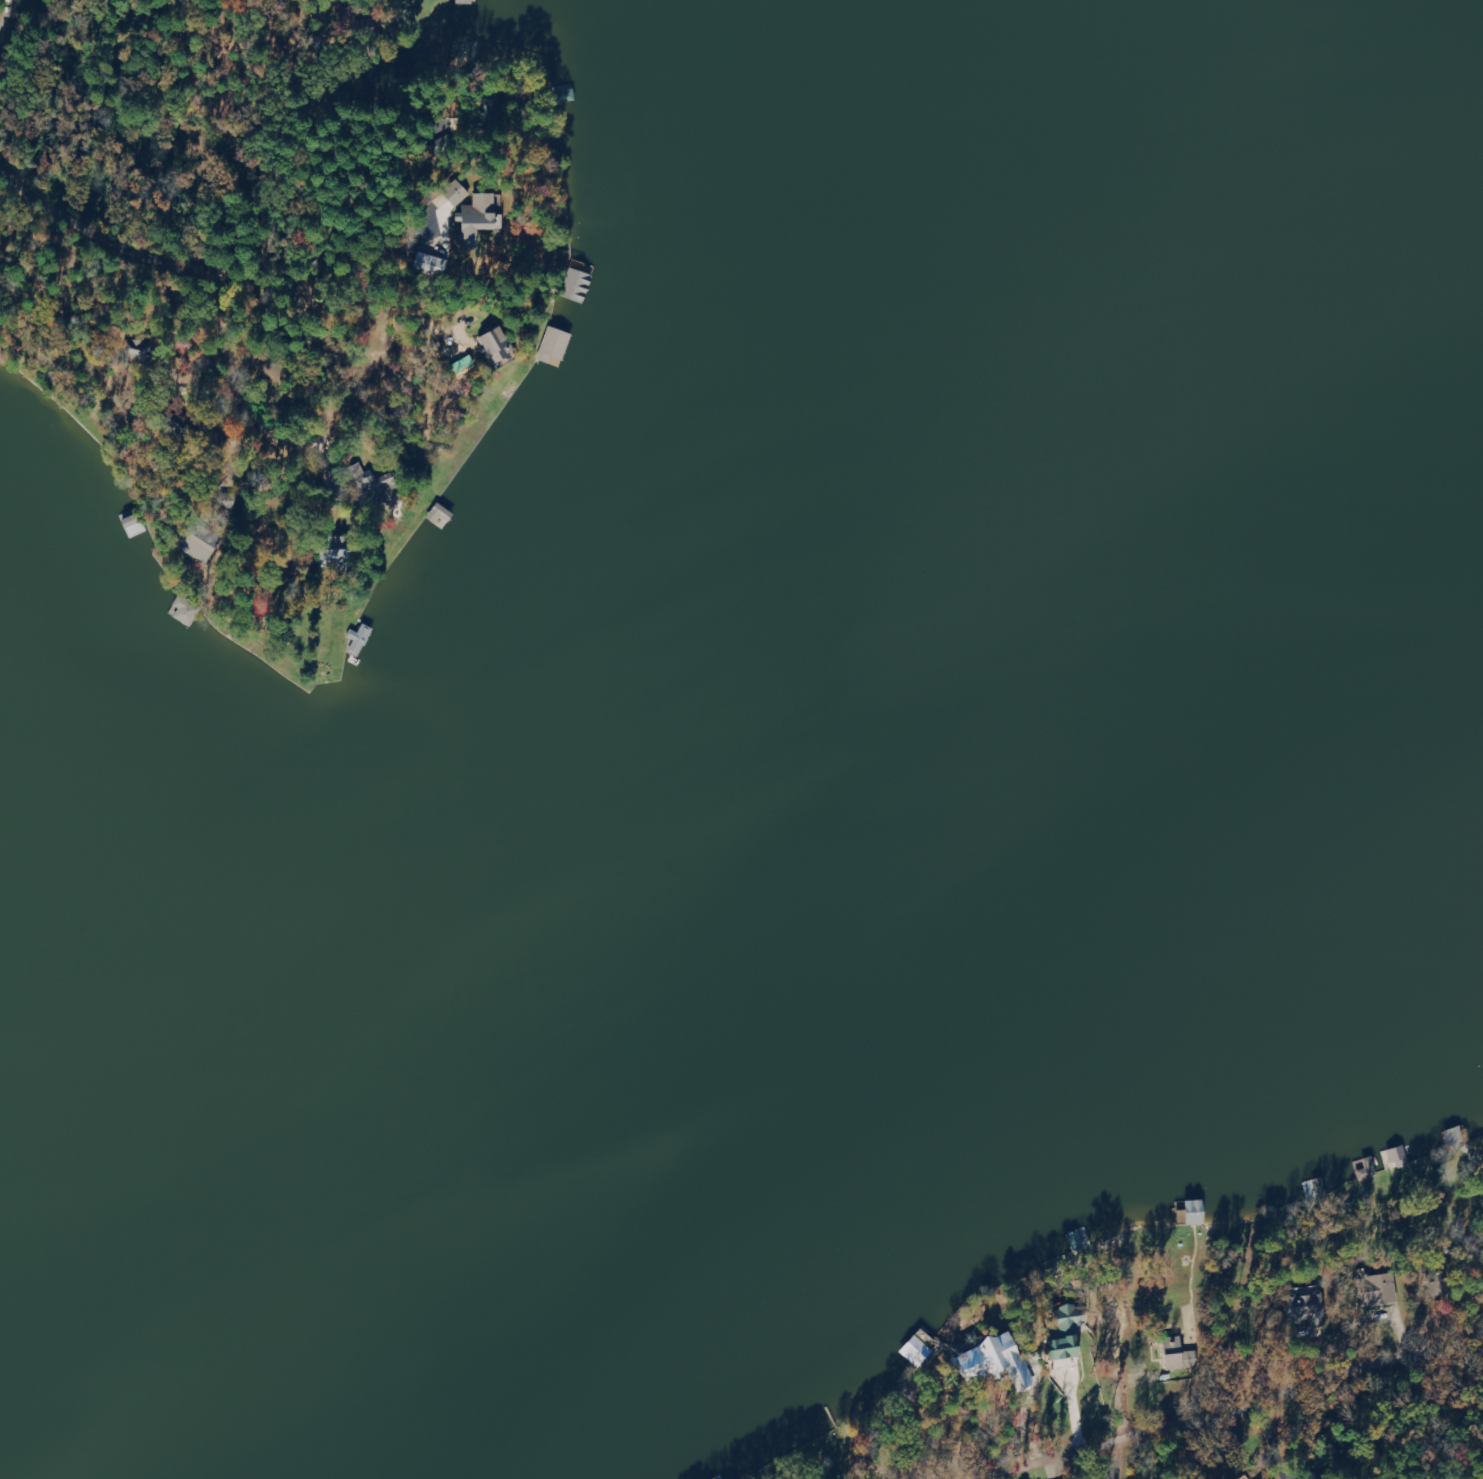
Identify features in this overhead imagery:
building: (469, 2)
road: (33, 41)
road: (380, 106)
road: (358, 134)
road: (457, 165)
road: (420, 184)
building: (459, 195)
building: (484, 217)
building: (434, 266)
building: (558, 343)
building: (501, 347)
building: (387, 484)
building: (444, 515)
building: (348, 560)
building: (189, 612)
building: (362, 640)
building: (1397, 1157)
building: (1365, 1169)
building: (1190, 1213)
building: (1382, 1290)
road: (1238, 1324)
building: (1061, 1333)
building: (1170, 1354)
building: (988, 1360)

